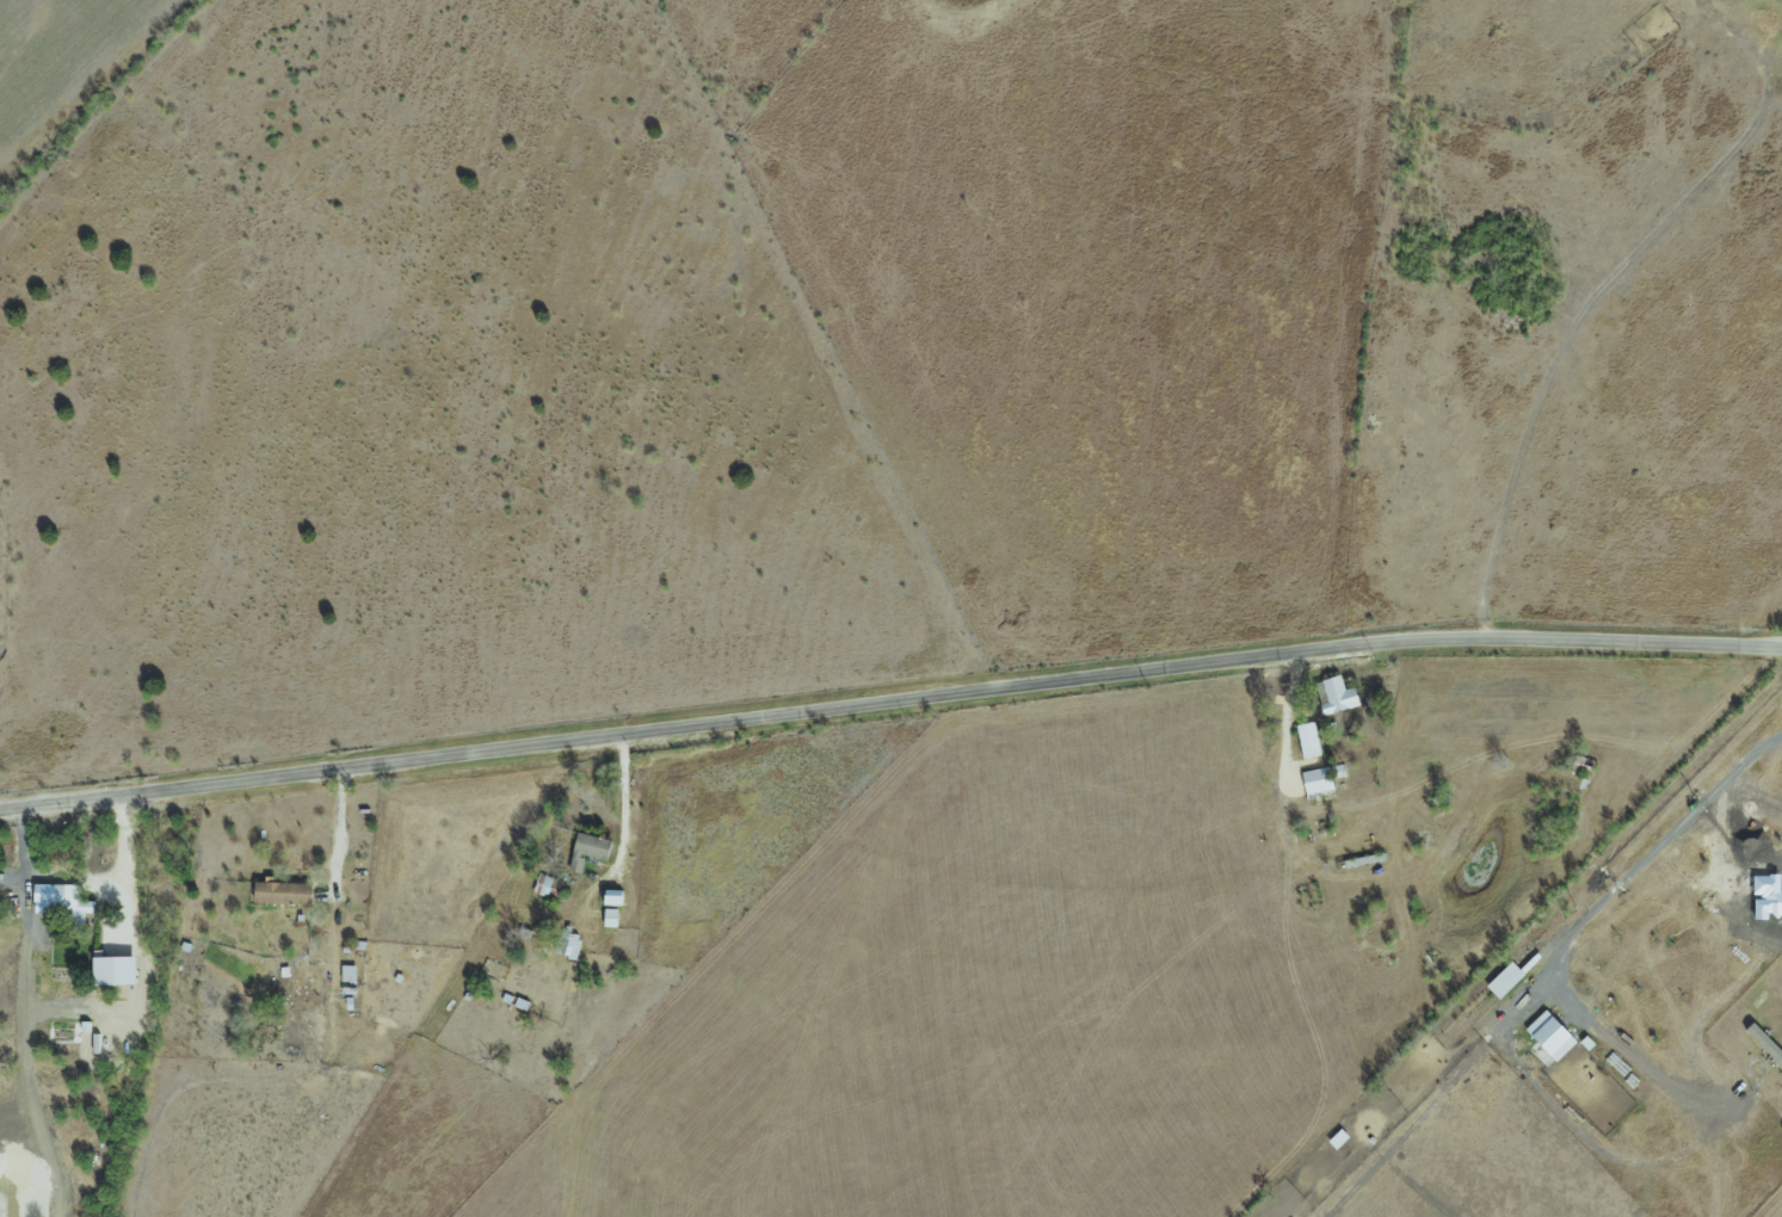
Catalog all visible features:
building: (1336, 696)
road: (889, 704)
building: (1307, 740)
building: (1315, 780)
road: (622, 827)
road: (339, 830)
building: (591, 846)
road: (128, 861)
building: (279, 892)
building: (61, 902)
road: (1577, 927)
building: (566, 943)
building: (112, 971)
building: (1503, 980)
building: (1548, 1034)
building: (1763, 1043)

